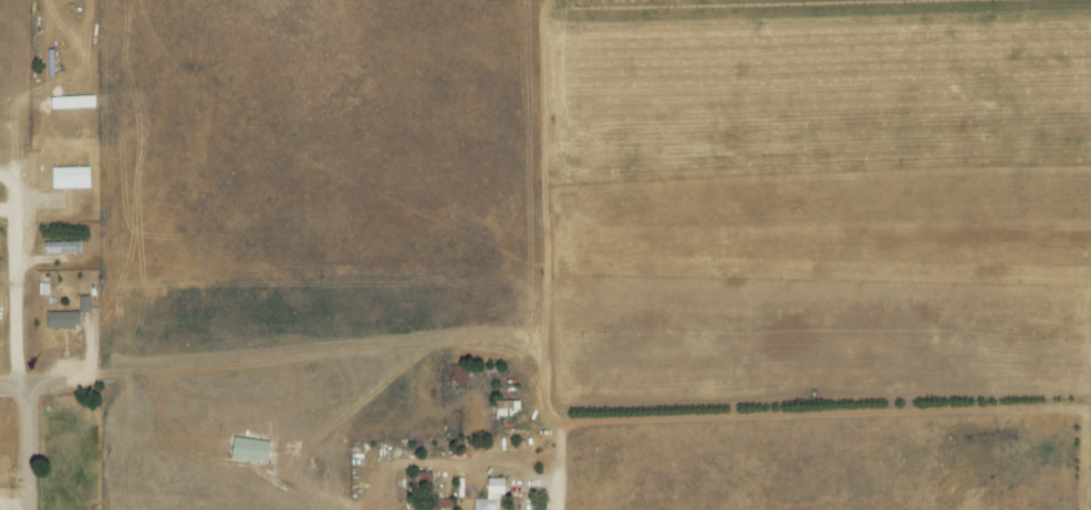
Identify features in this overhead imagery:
building: (69, 178)
building: (61, 248)
road: (15, 280)
building: (83, 305)
building: (61, 321)
road: (75, 377)
road: (32, 449)
building: (425, 478)
road: (543, 487)
building: (490, 496)
building: (438, 503)

